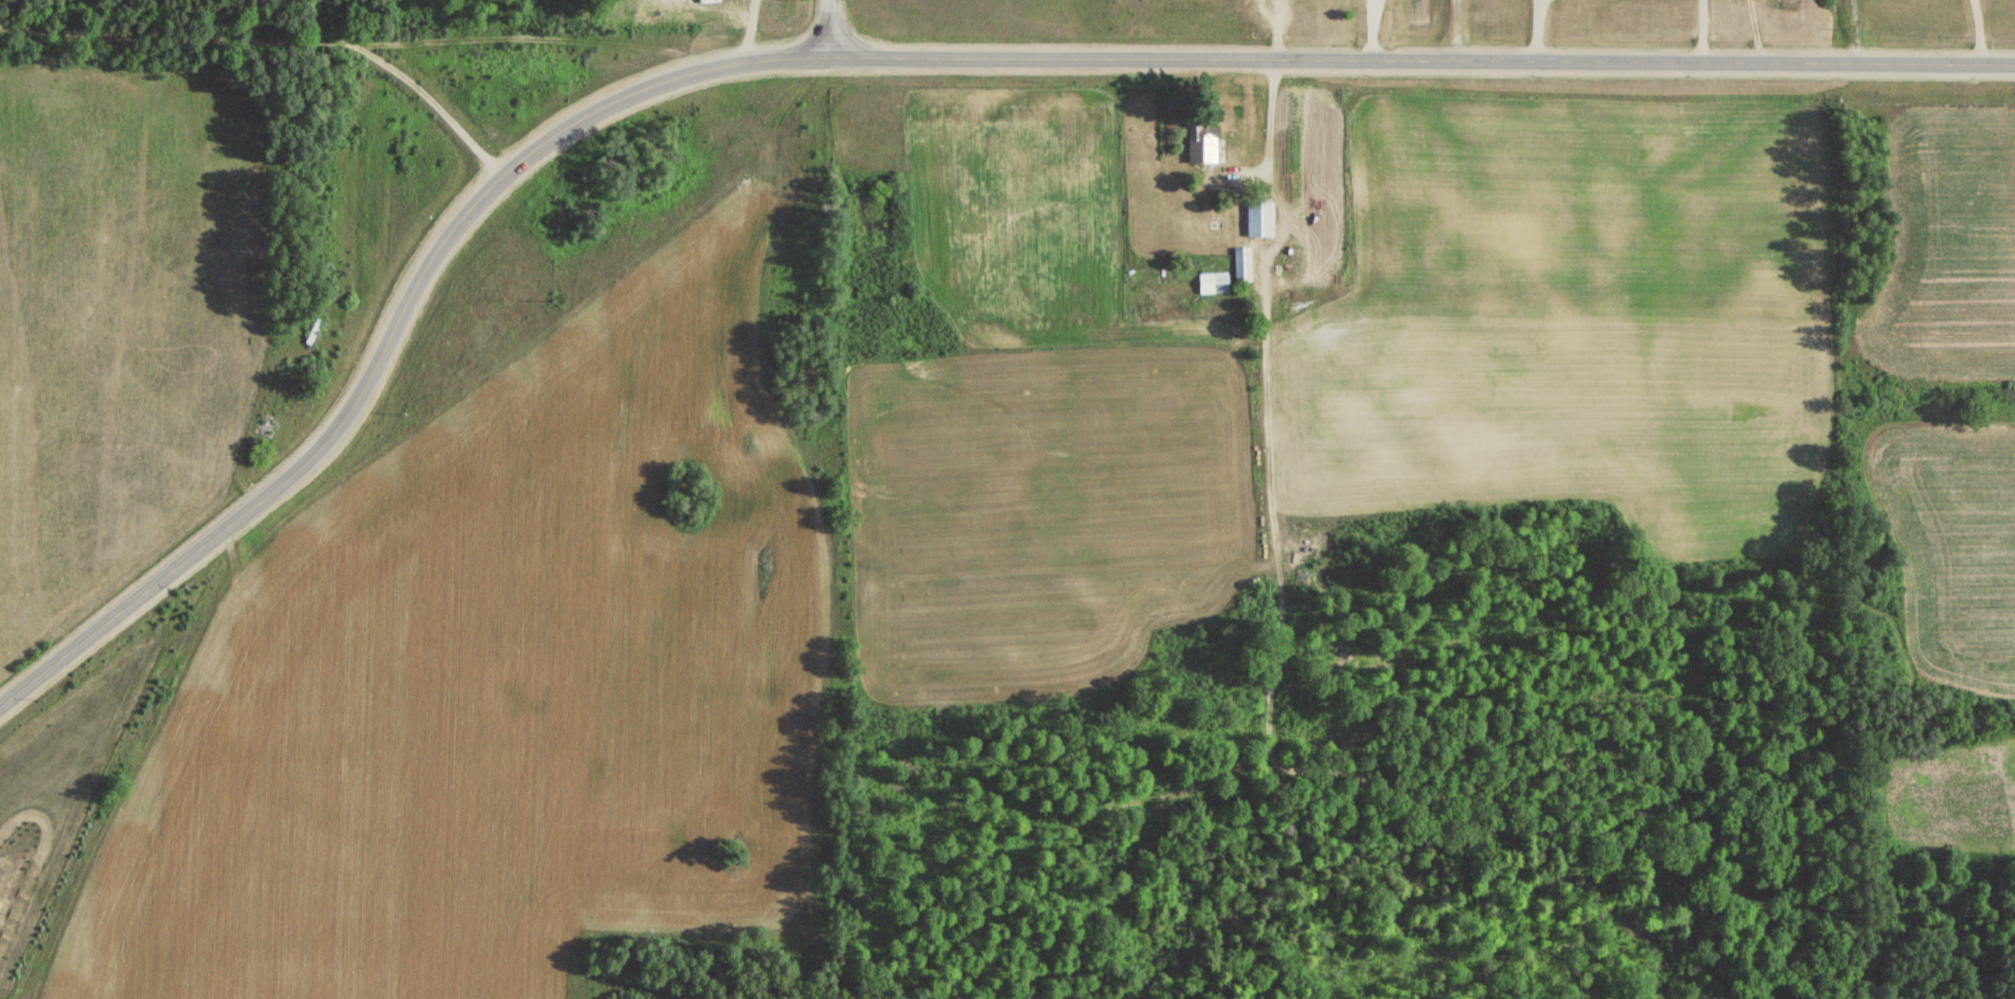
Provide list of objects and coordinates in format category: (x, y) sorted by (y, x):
road: (829, 29)
road: (274, 44)
road: (1243, 59)
building: (1200, 143)
building: (1257, 219)
building: (1239, 264)
building: (1210, 284)
road: (288, 476)

